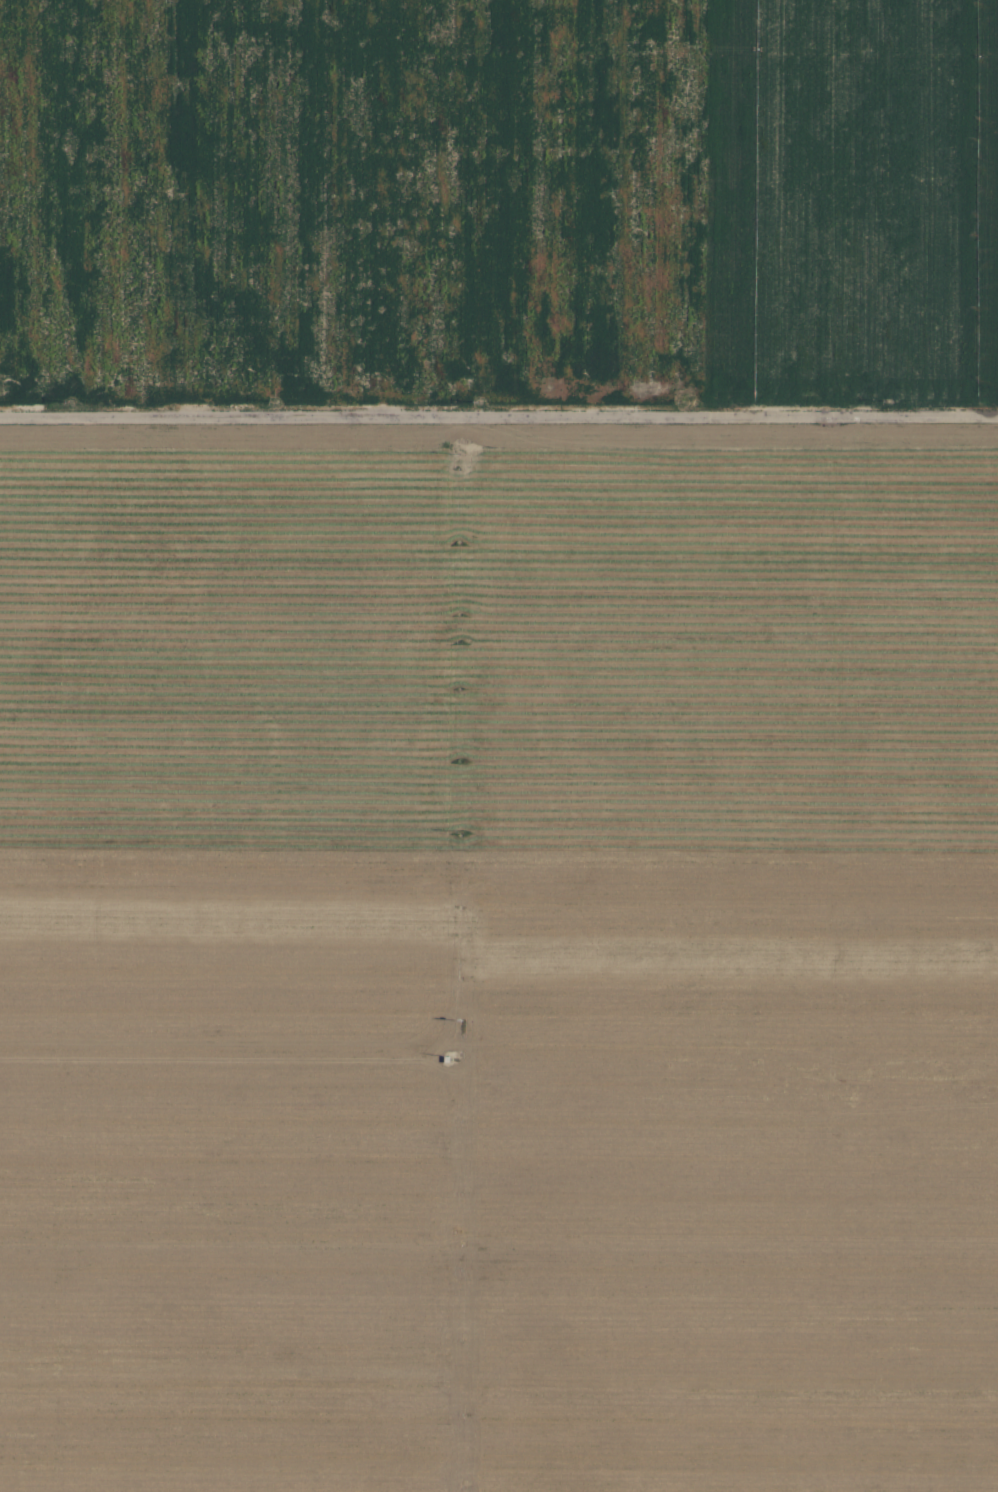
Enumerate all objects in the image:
road: (499, 420)
crop: (499, 746)

